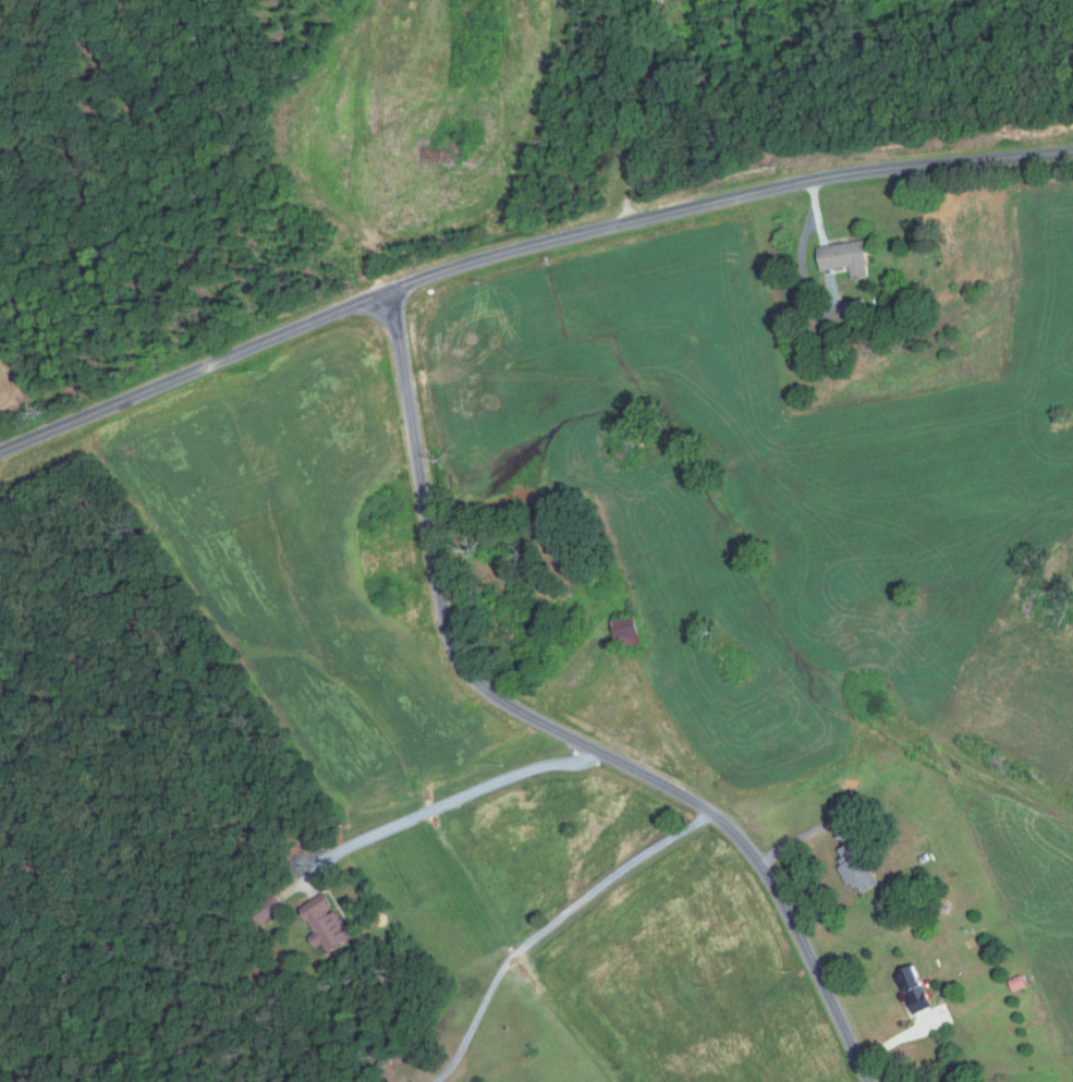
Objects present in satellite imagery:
road: (645, 110)
road: (817, 210)
road: (522, 247)
building: (846, 256)
building: (857, 311)
road: (554, 728)
road: (444, 803)
building: (854, 868)
road: (550, 922)
building: (322, 924)
building: (1015, 983)
building: (911, 989)

